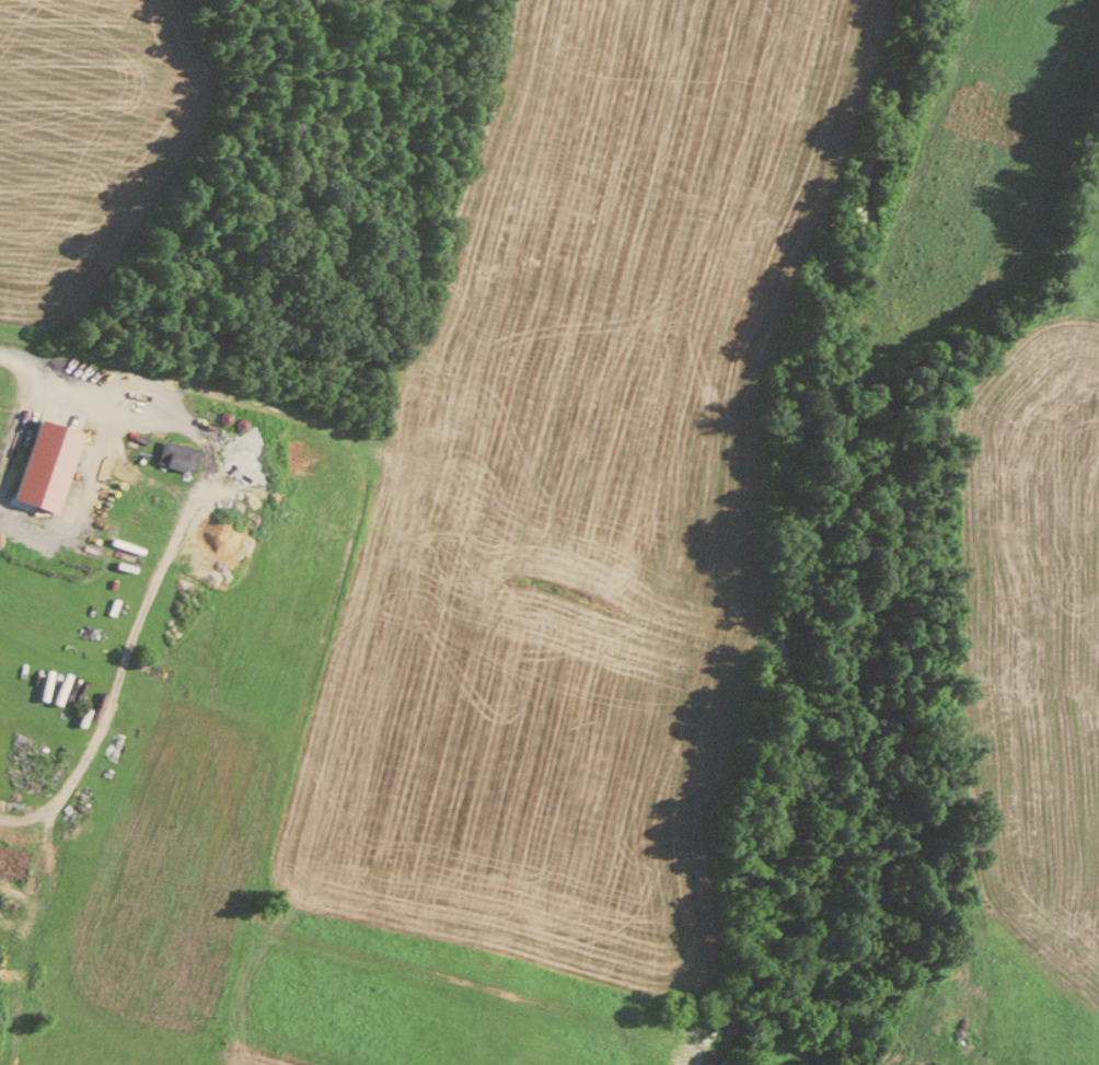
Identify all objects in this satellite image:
building: (173, 454)
building: (41, 463)
road: (180, 528)

